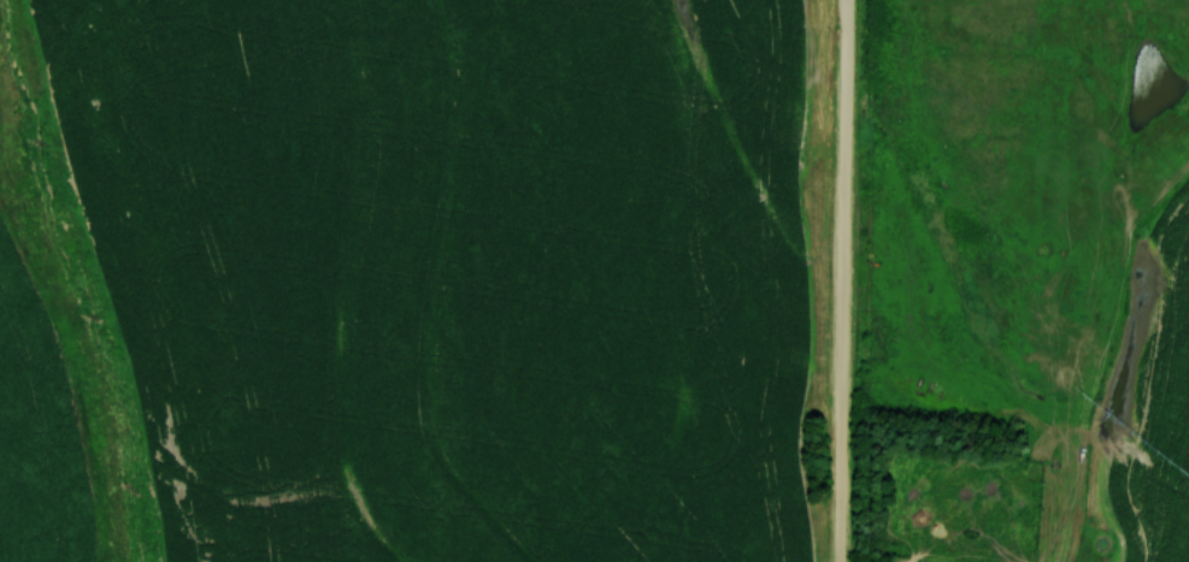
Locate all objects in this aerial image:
road: (844, 280)

